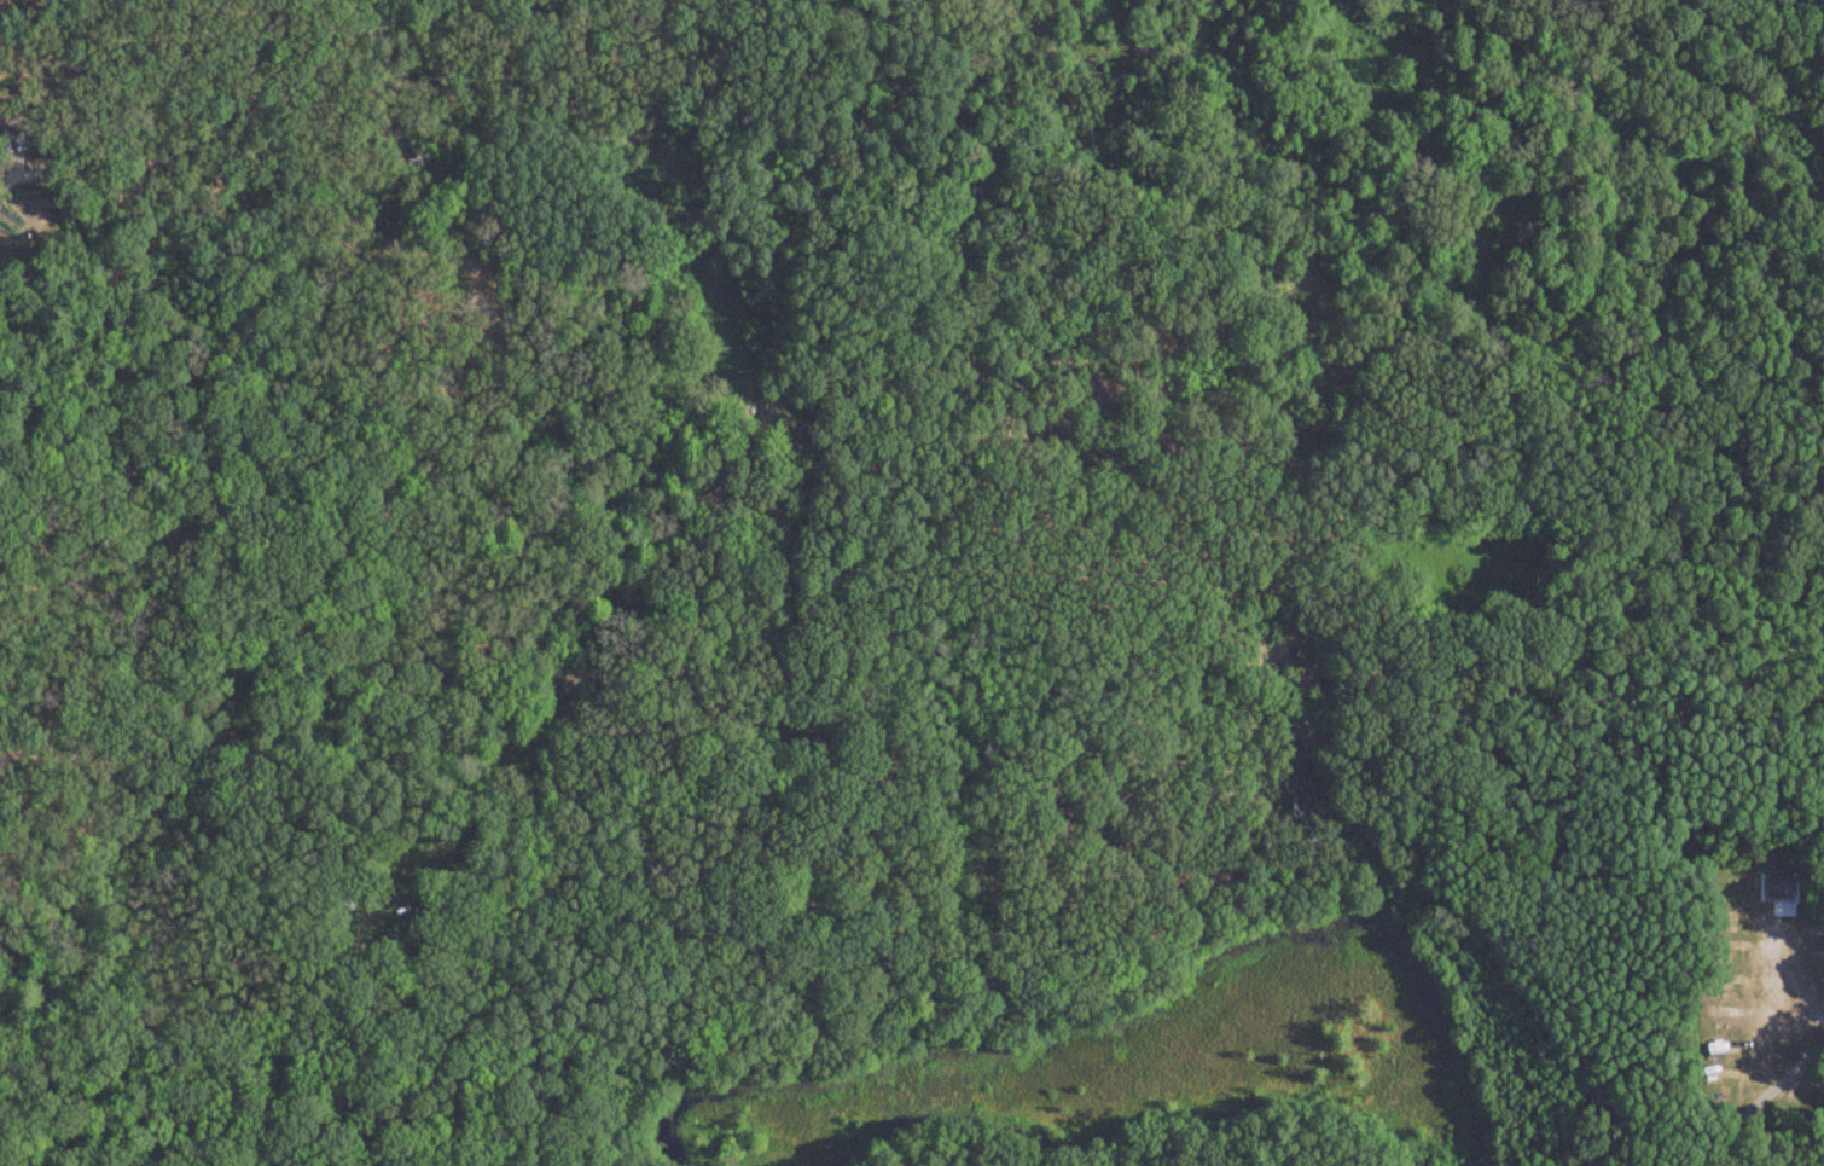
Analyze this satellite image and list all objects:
park: (1323, 586)

